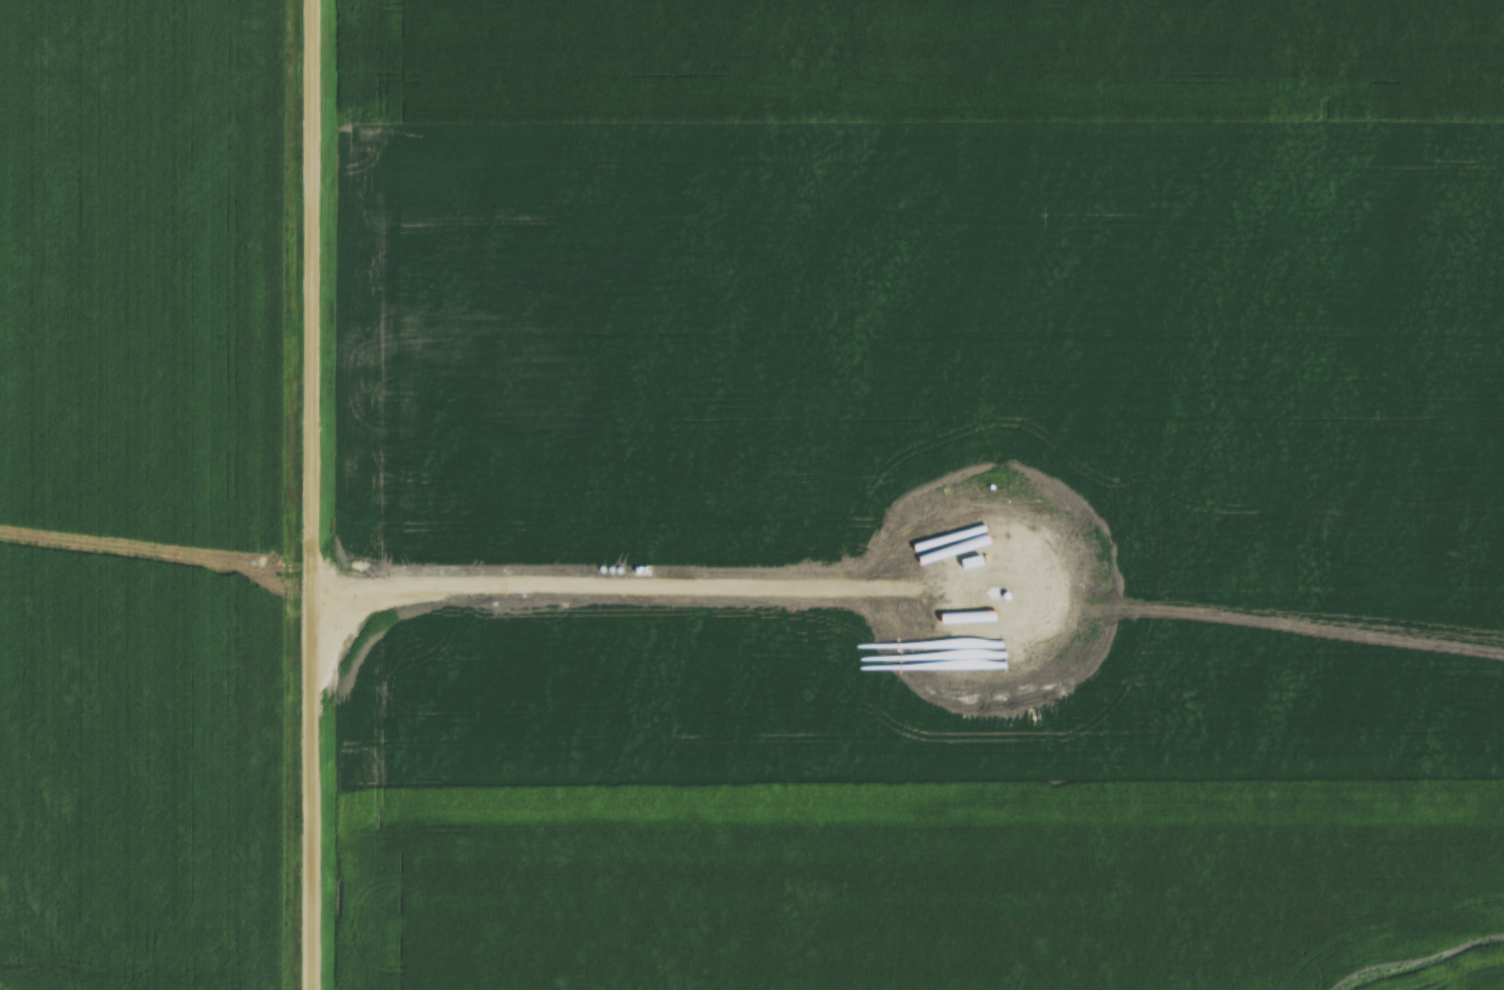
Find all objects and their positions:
road: (314, 495)
wind turbine: (995, 594)

